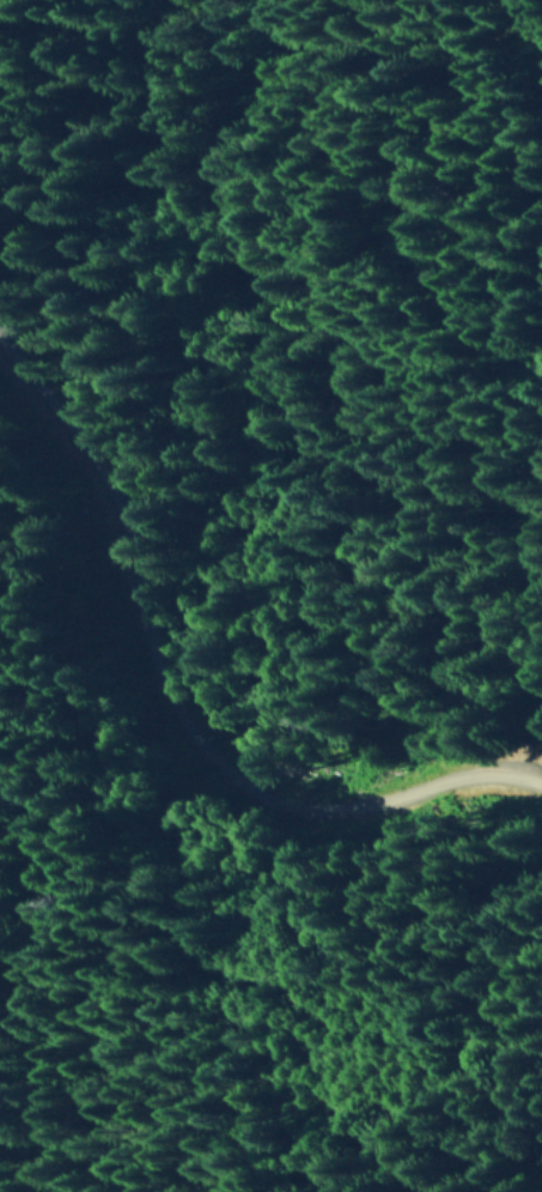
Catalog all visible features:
road: (261, 841)

